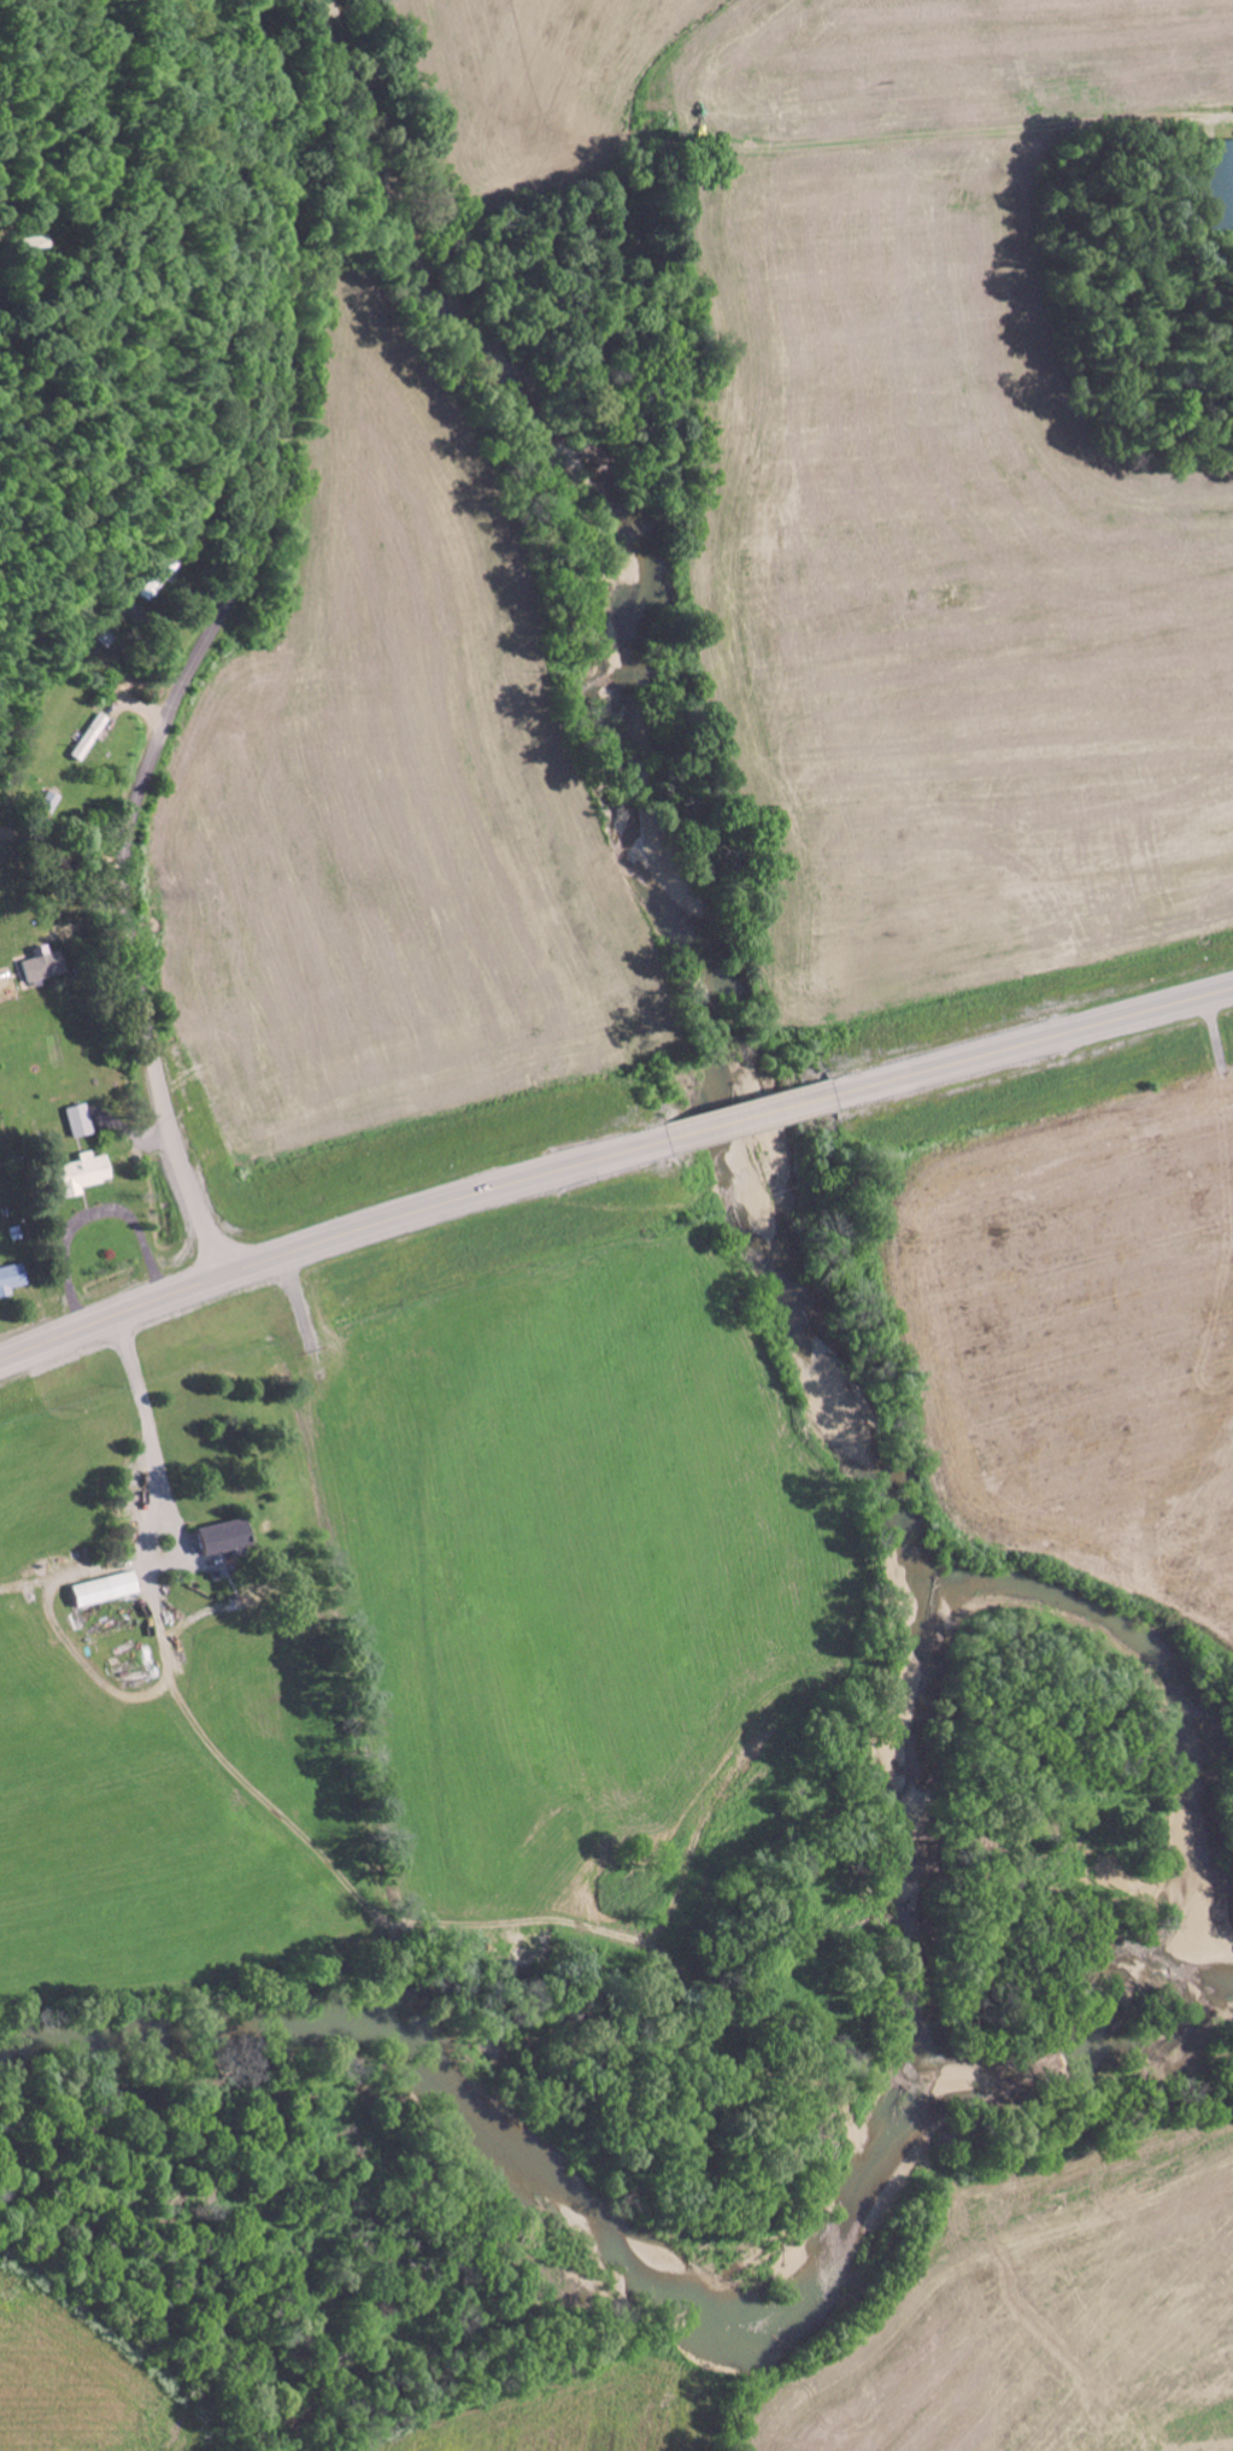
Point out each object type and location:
building: (1216, 183)
road: (781, 203)
building: (22, 238)
road: (205, 644)
building: (36, 967)
road: (1035, 1042)
road: (753, 1116)
building: (75, 1121)
building: (76, 1174)
road: (447, 1204)
building: (8, 1279)
road: (113, 1313)
building: (211, 1538)
building: (96, 1590)
river: (849, 2241)

